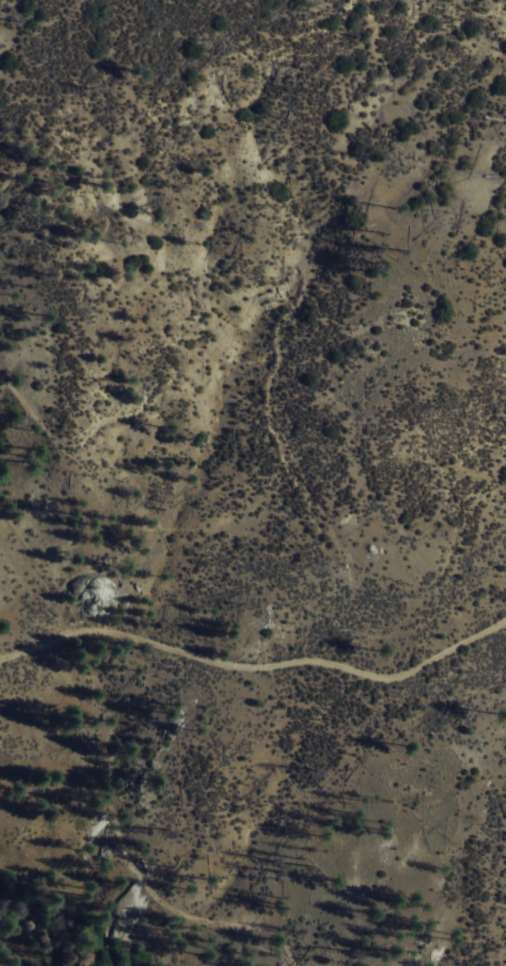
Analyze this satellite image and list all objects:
road: (115, 831)

